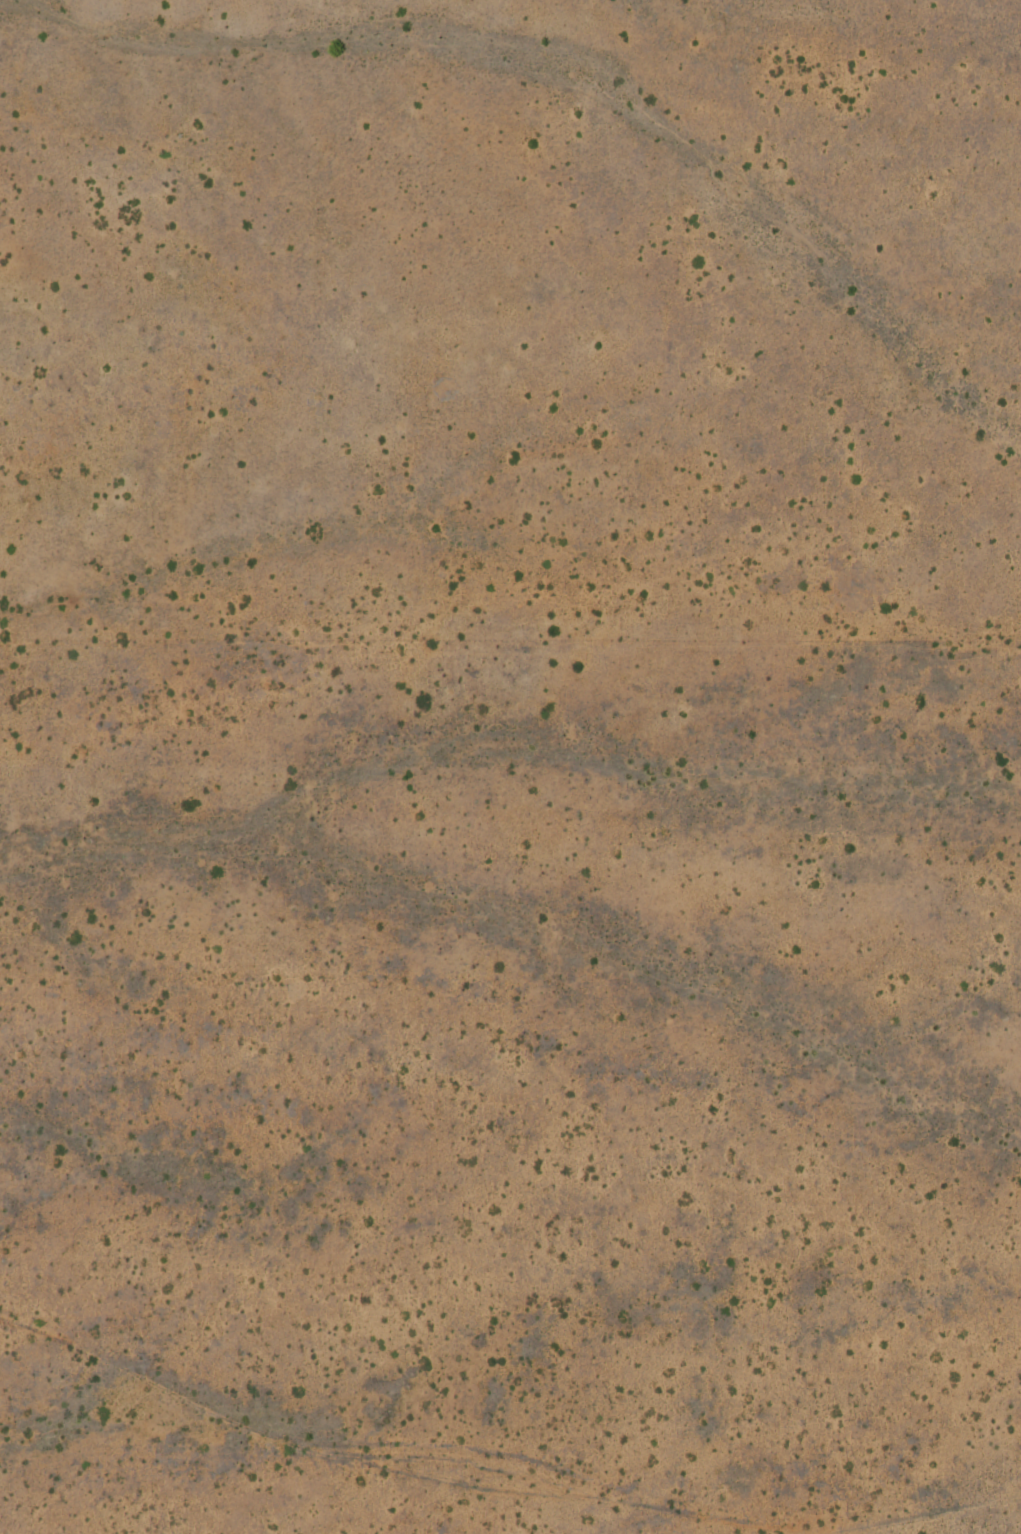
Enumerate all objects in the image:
road: (249, 1399)
road: (769, 1445)

